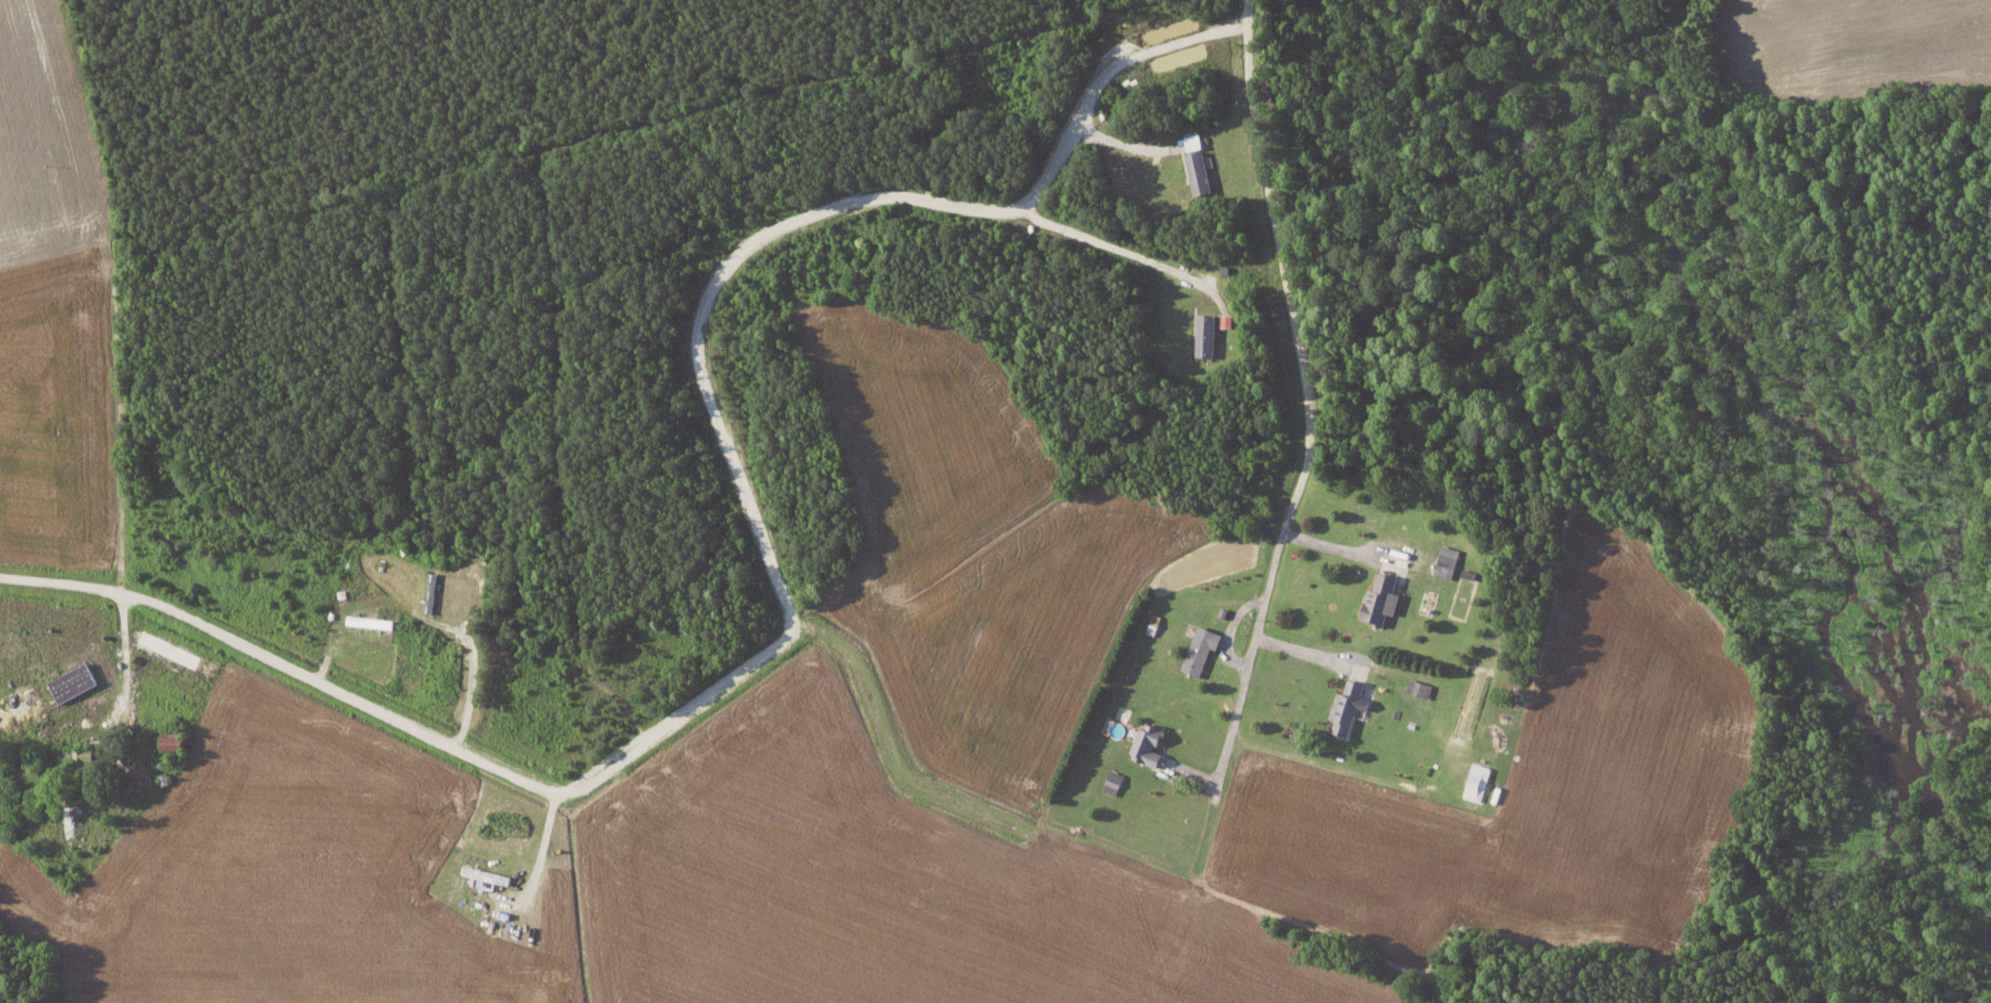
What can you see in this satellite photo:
building: (1200, 173)
road: (1121, 246)
building: (1207, 333)
road: (1305, 411)
road: (1334, 545)
building: (1450, 555)
road: (771, 563)
building: (1386, 592)
building: (372, 621)
building: (1202, 648)
building: (75, 681)
building: (1350, 705)
road: (1233, 718)
building: (176, 741)
building: (1151, 743)
building: (1478, 781)
building: (69, 817)
building: (488, 876)

